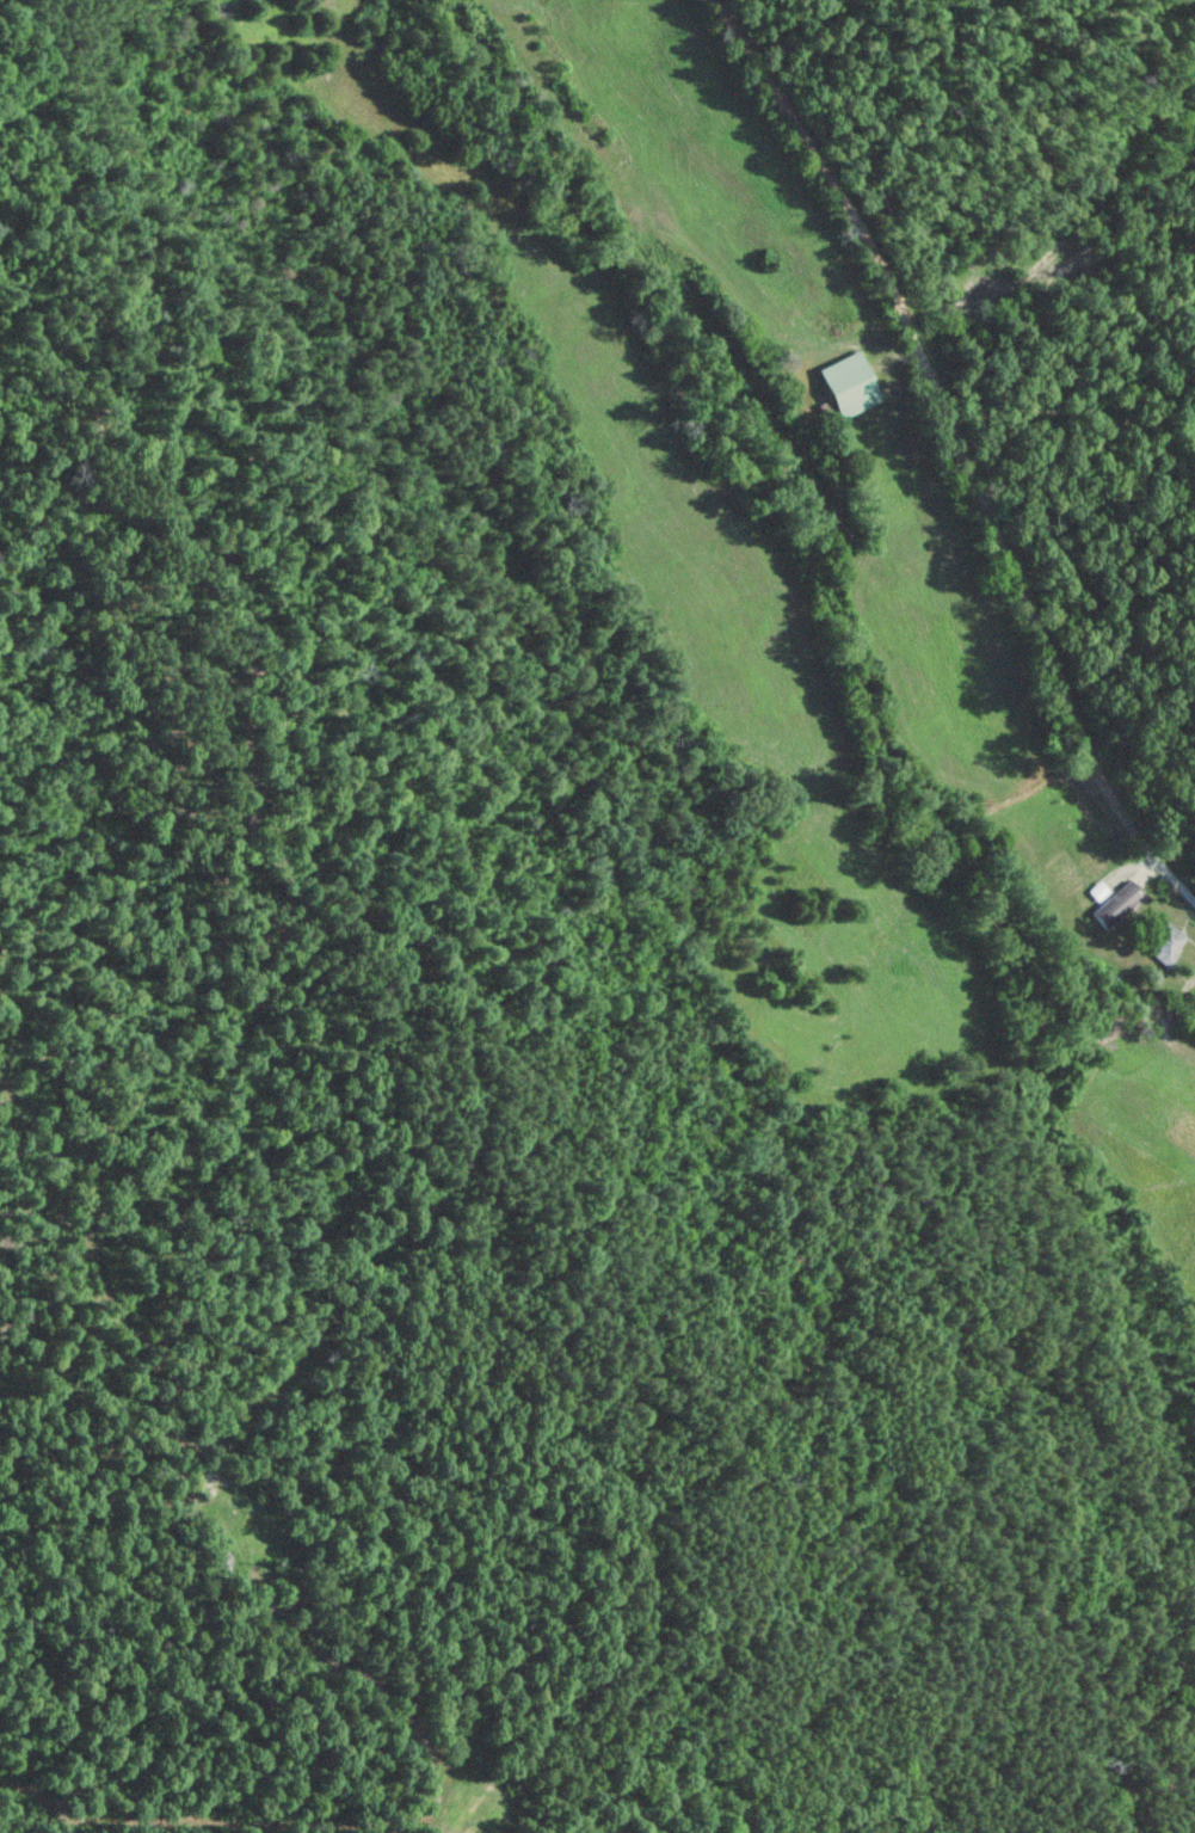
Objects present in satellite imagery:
road: (1057, 252)
building: (860, 385)
road: (961, 439)
road: (1074, 473)

